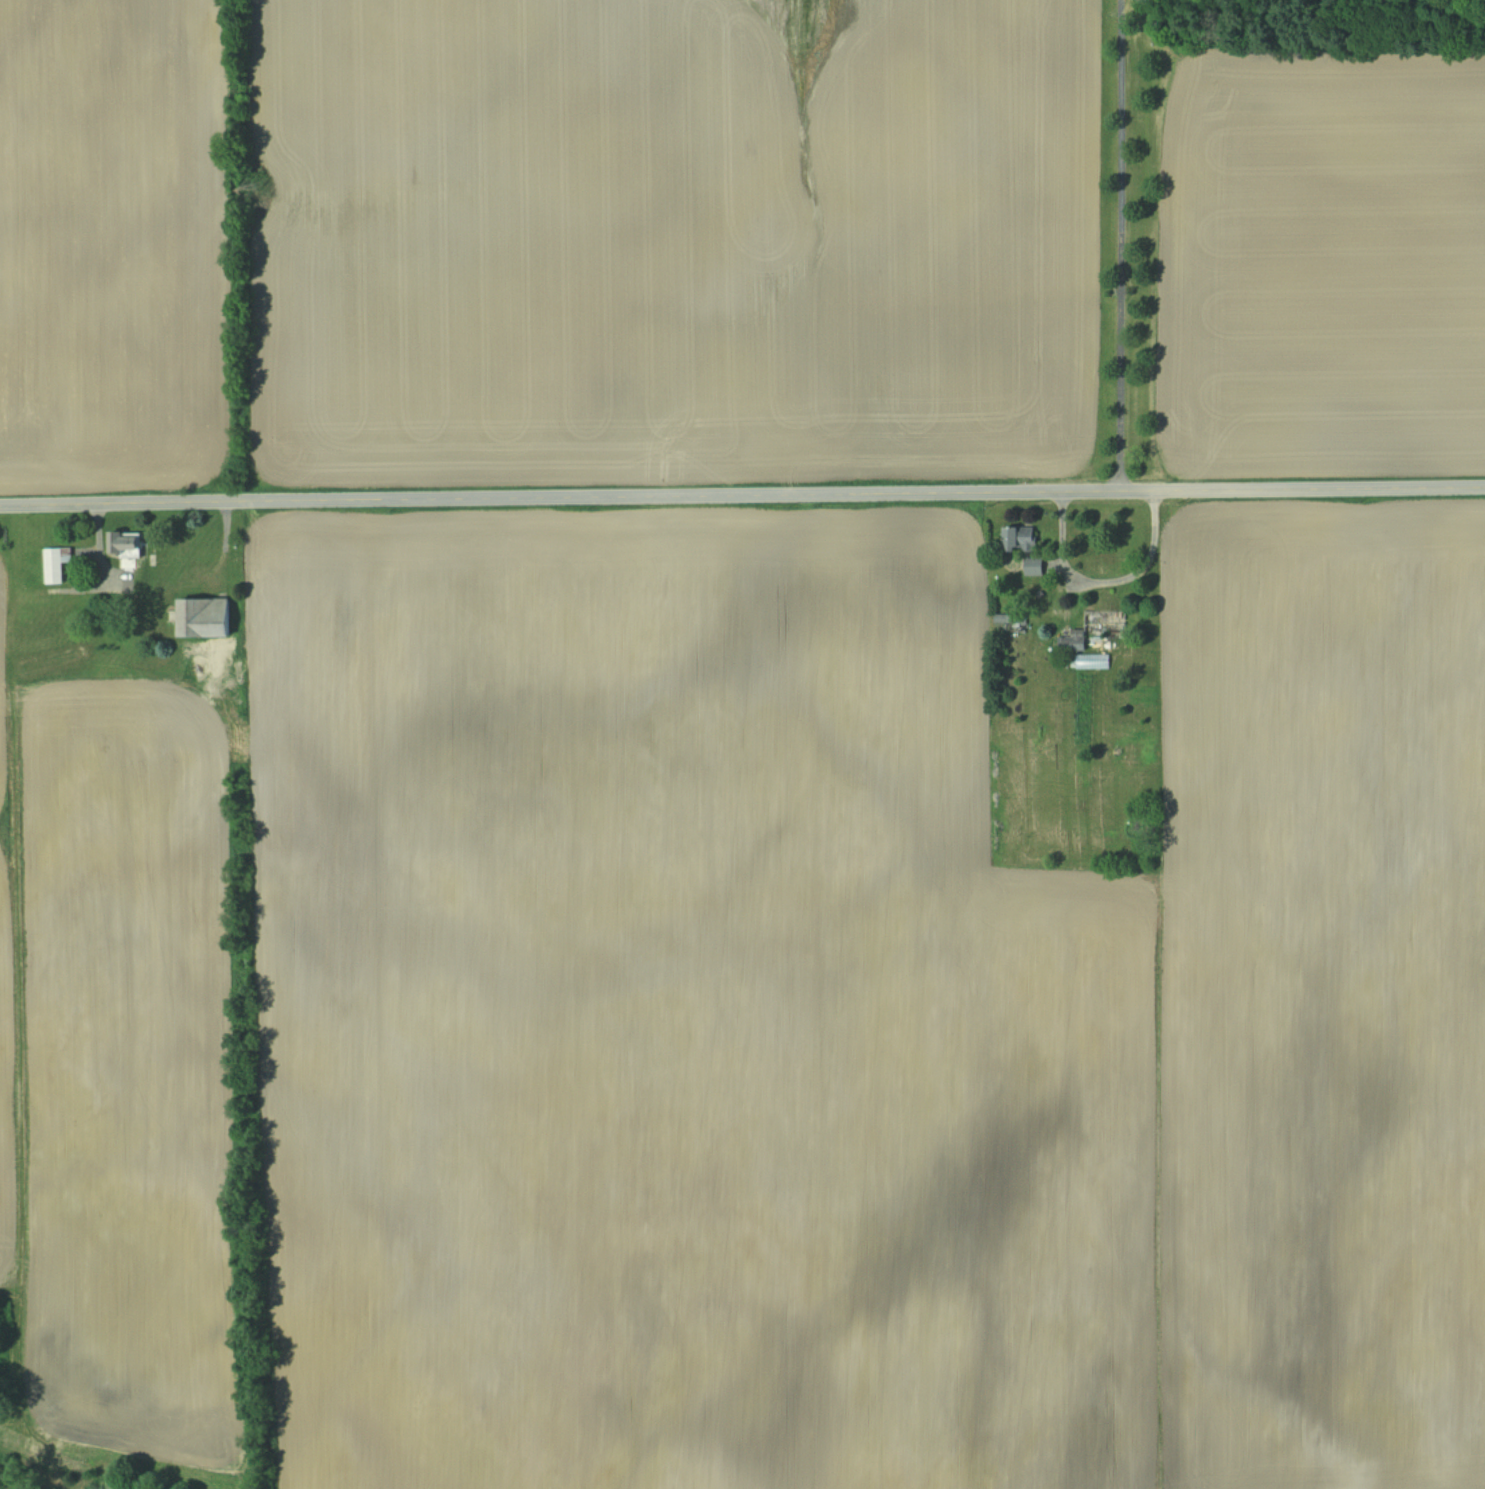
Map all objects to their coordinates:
road: (1120, 245)
road: (742, 495)
building: (1020, 541)
building: (126, 546)
building: (159, 563)
building: (56, 565)
building: (1034, 567)
building: (1004, 619)
building: (205, 620)
building: (1074, 643)
building: (1092, 663)

